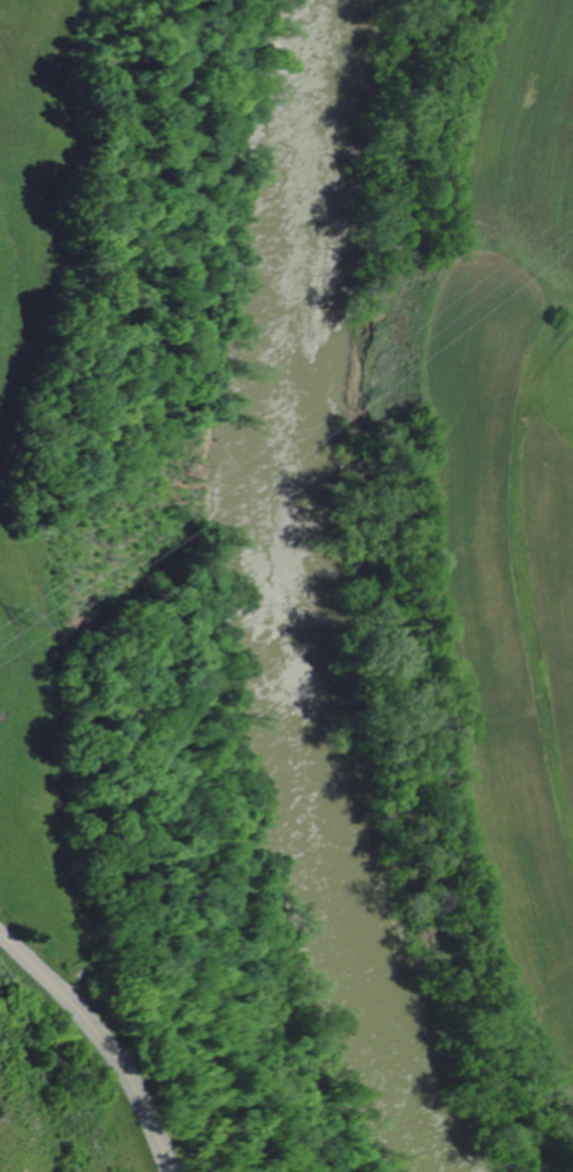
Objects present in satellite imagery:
river: (269, 598)
road: (99, 1042)

